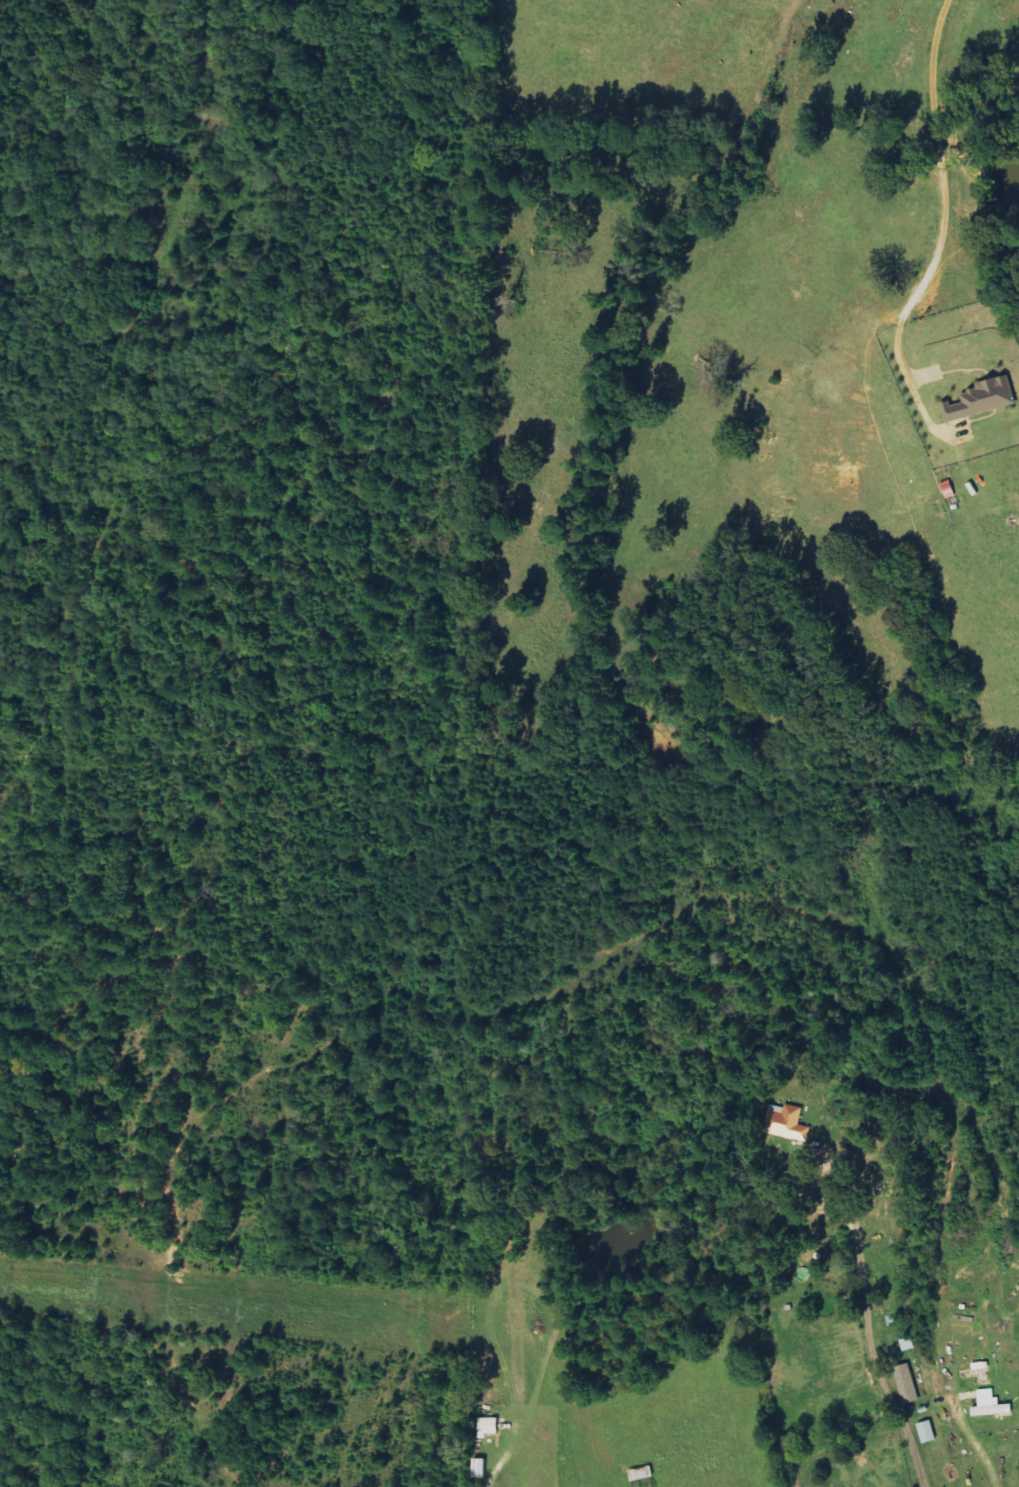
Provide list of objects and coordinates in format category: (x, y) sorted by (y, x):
building: (984, 400)
building: (786, 1116)
road: (962, 1317)
building: (981, 1366)
building: (908, 1384)
building: (993, 1404)
building: (928, 1432)

